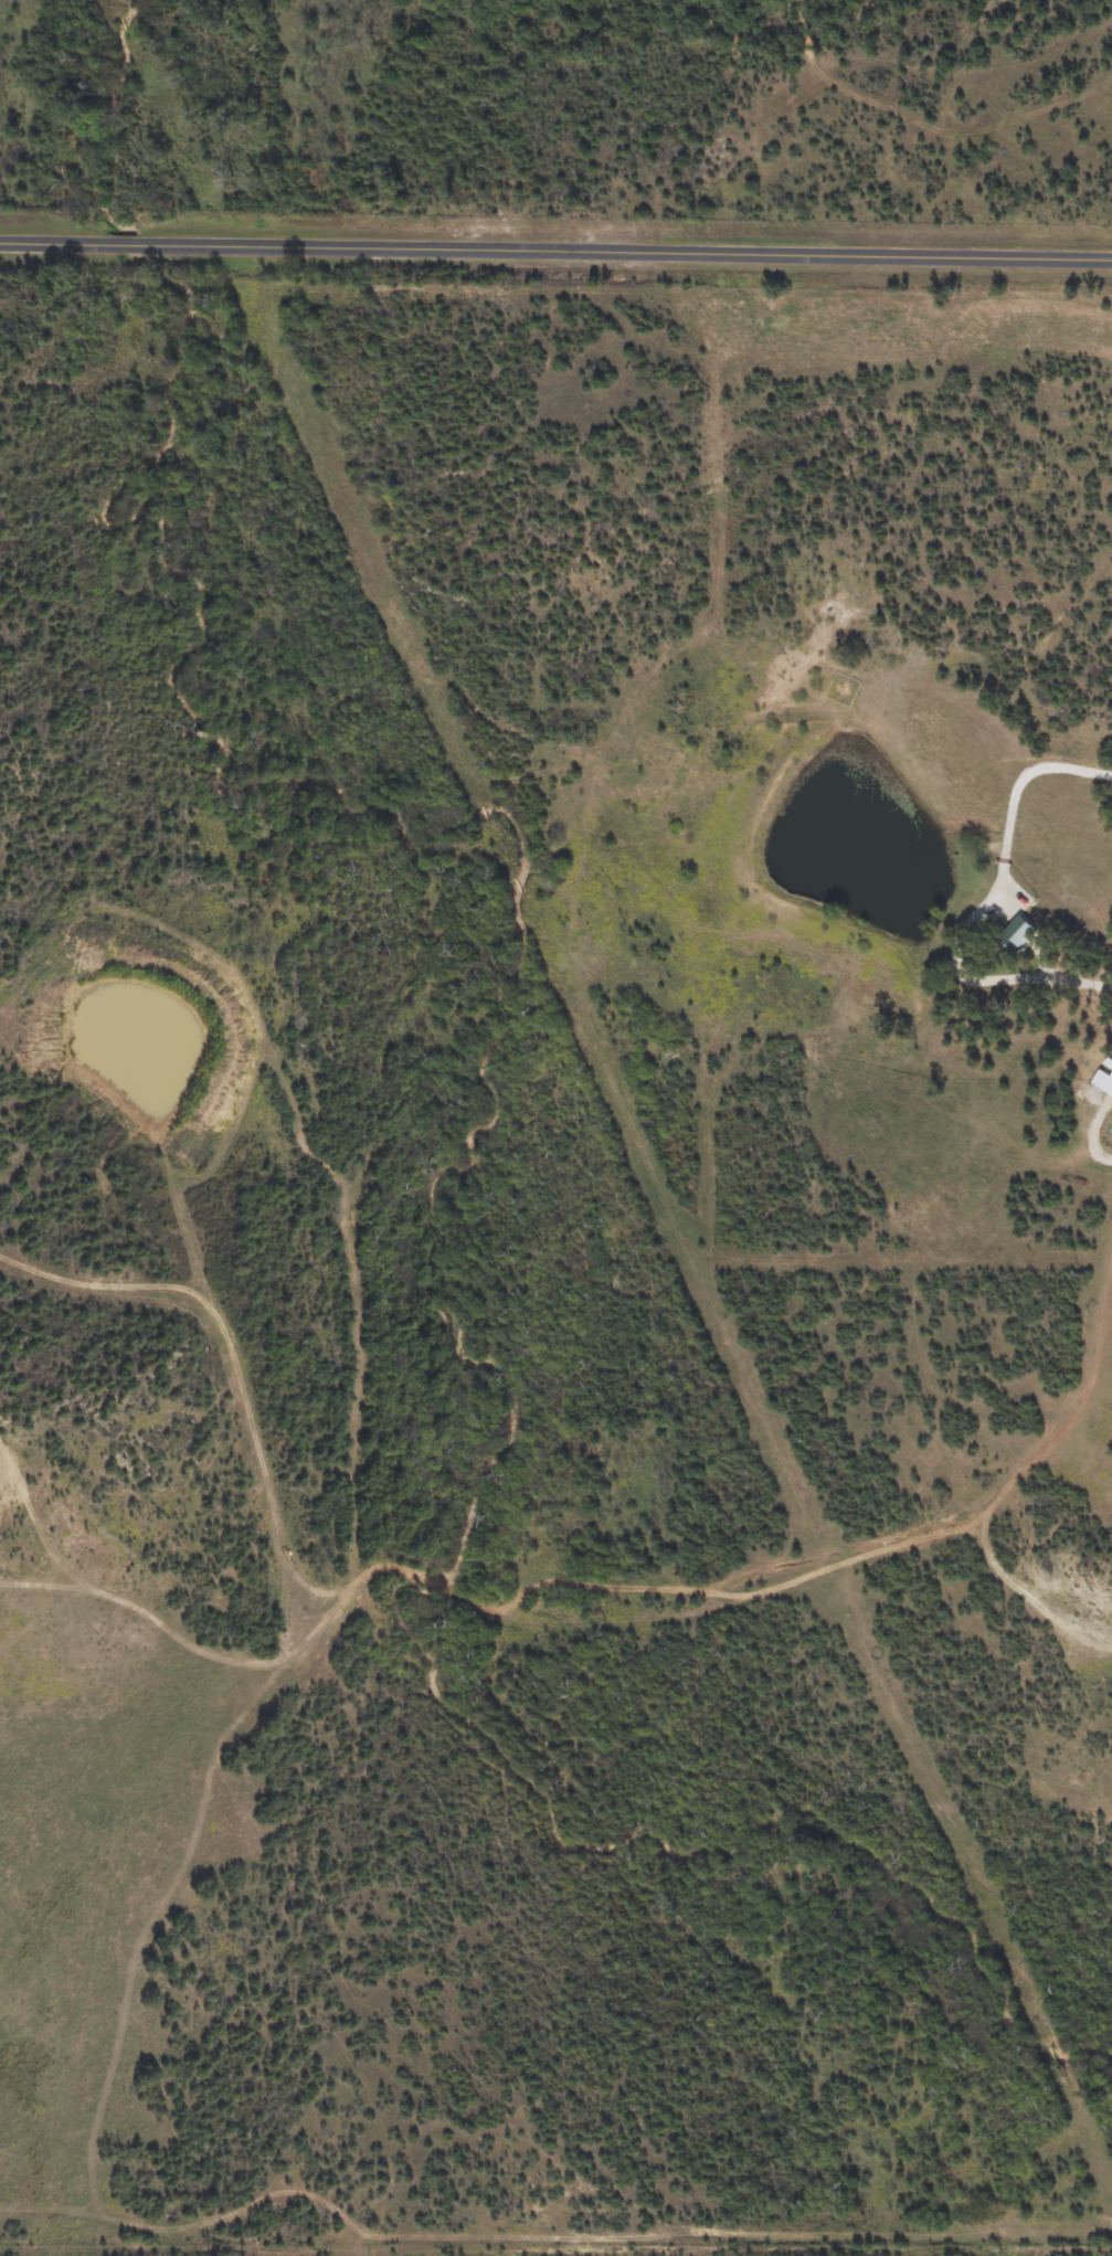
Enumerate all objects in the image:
road: (555, 253)
building: (1010, 938)
building: (1103, 1076)

